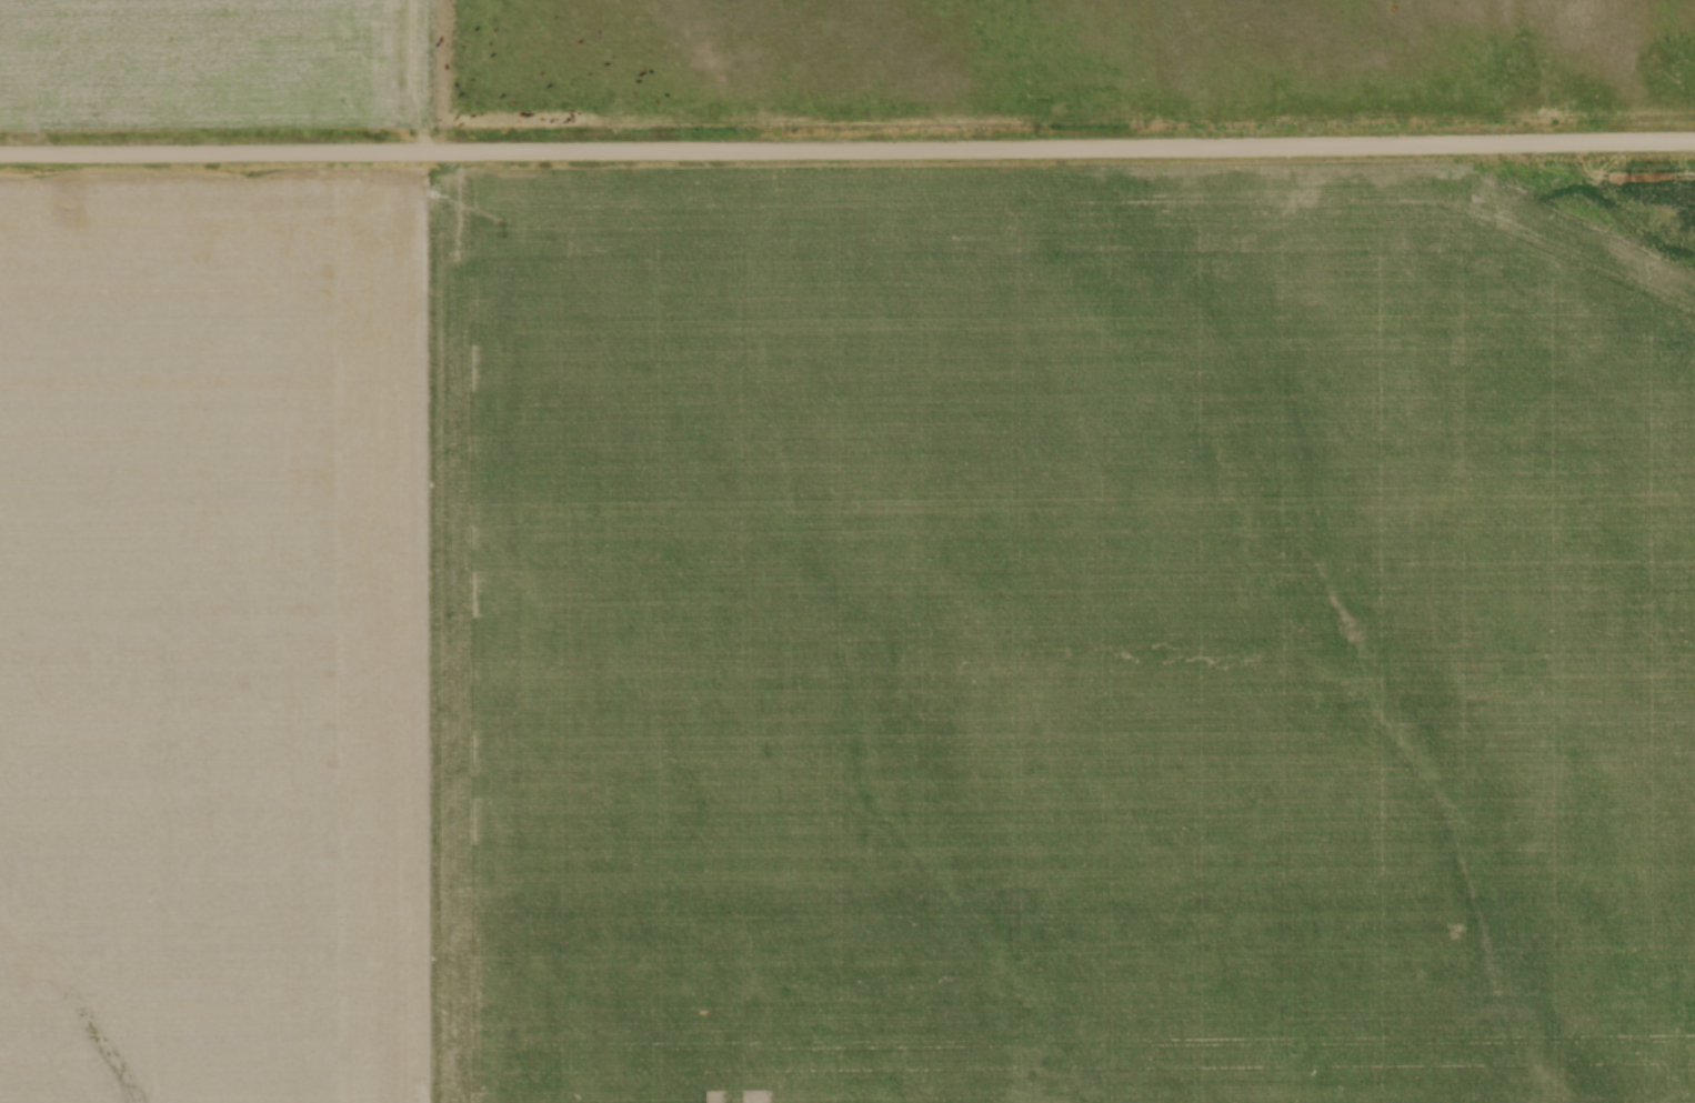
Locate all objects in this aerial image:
road: (847, 148)

